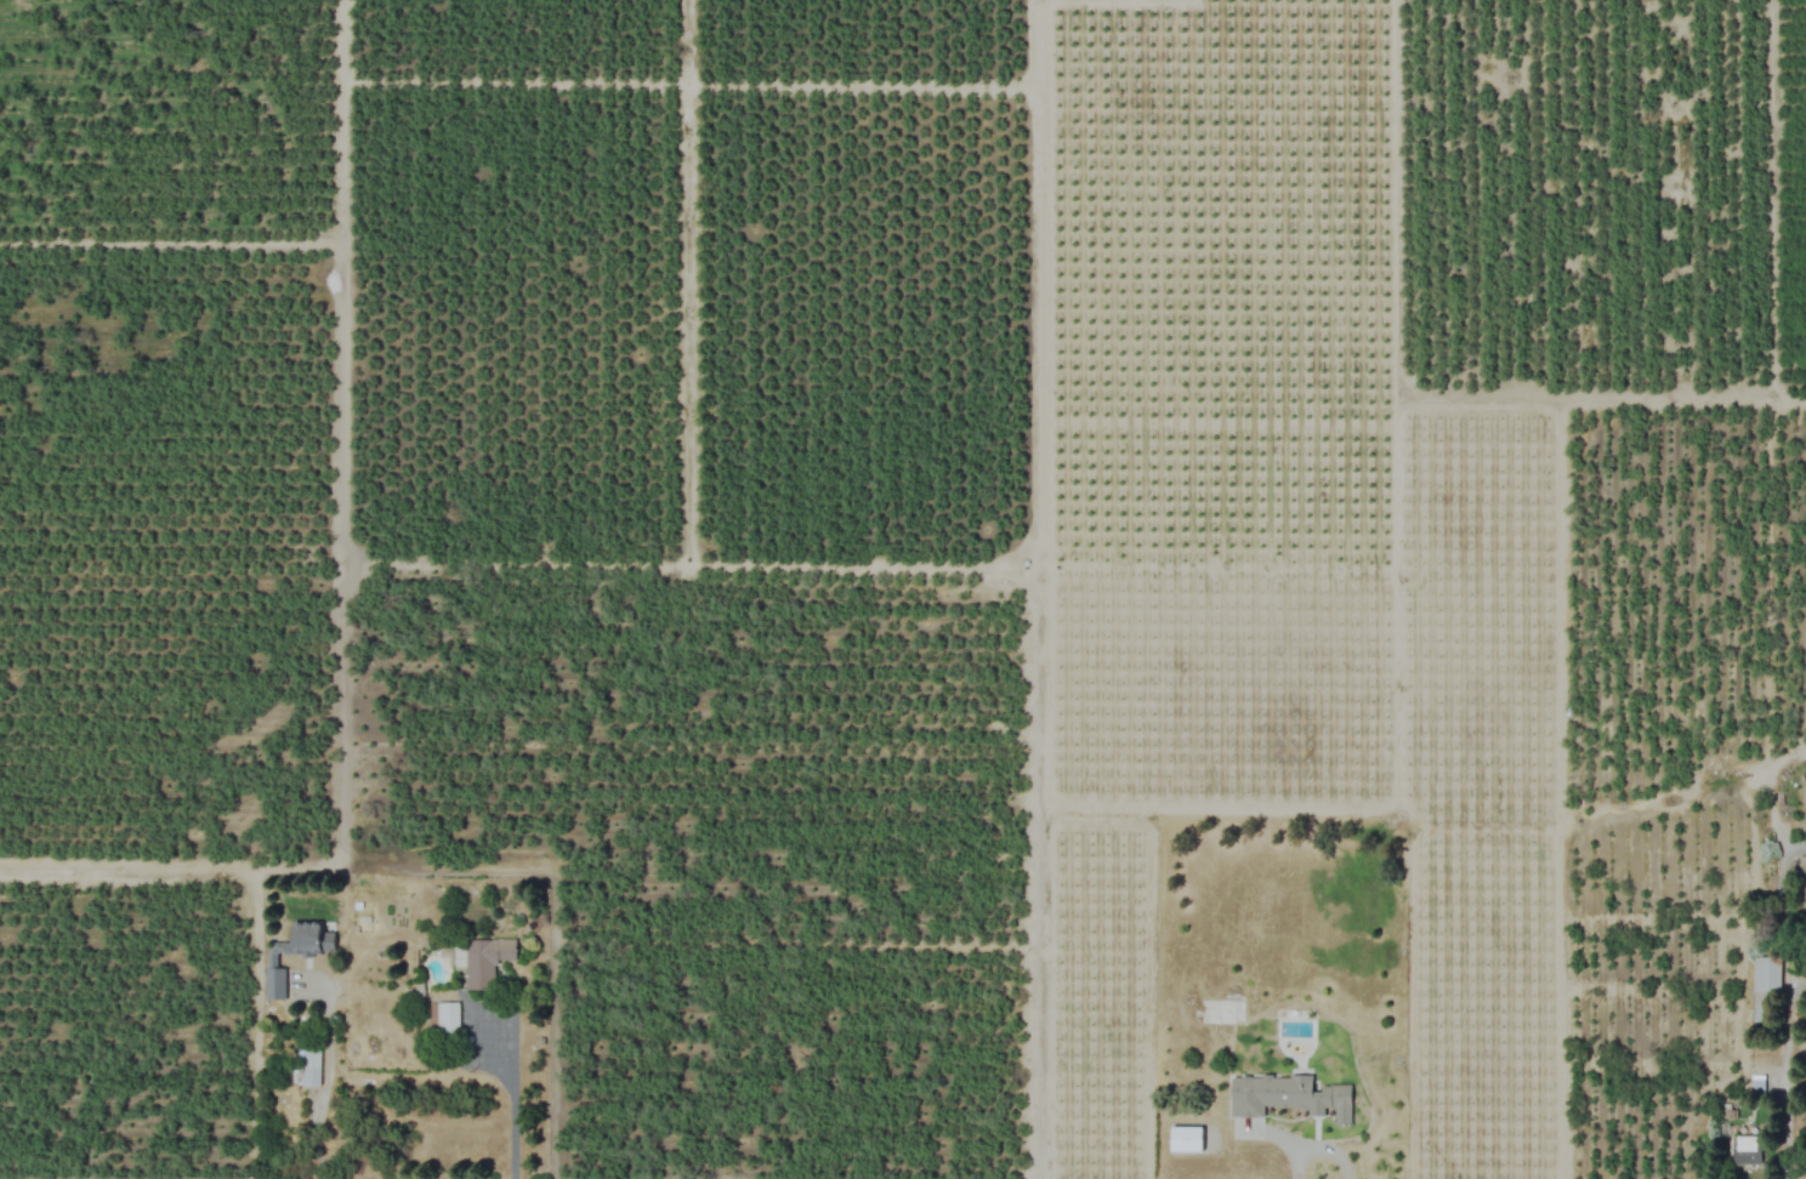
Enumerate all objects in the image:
road: (1137, 0)
road: (1038, 589)
building: (1802, 867)
building: (272, 961)
building: (485, 962)
building: (1766, 989)
building: (1221, 1012)
building: (444, 1019)
building: (307, 1067)
road: (1784, 1078)
building: (1288, 1097)
road: (512, 1118)
building: (1747, 1151)

